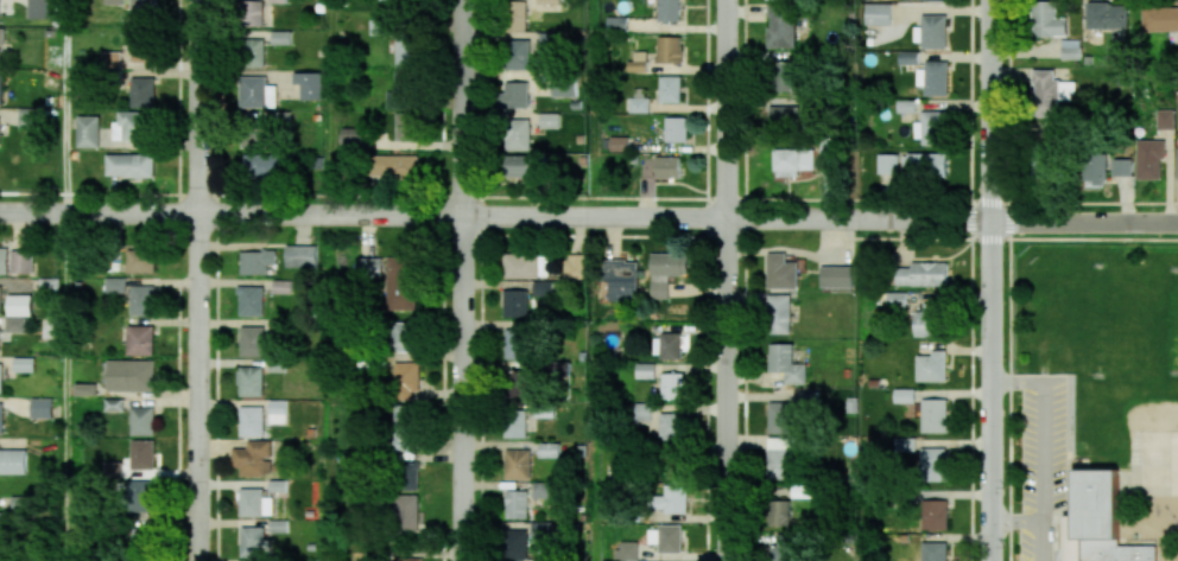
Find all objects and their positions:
building: (767, 0)
building: (936, 0)
building: (113, 1)
building: (547, 1)
building: (38, 8)
building: (669, 9)
building: (141, 12)
building: (252, 12)
building: (878, 13)
building: (517, 14)
building: (1109, 18)
building: (1159, 19)
building: (1049, 20)
building: (617, 24)
building: (781, 26)
building: (931, 31)
building: (280, 37)
building: (546, 38)
building: (0, 45)
building: (139, 47)
building: (670, 49)
building: (1070, 49)
building: (254, 52)
building: (407, 52)
building: (518, 55)
building: (907, 57)
building: (110, 59)
building: (638, 60)
building: (783, 76)
building: (933, 77)
building: (308, 84)
building: (563, 88)
building: (1, 89)
building: (670, 89)
building: (403, 90)
building: (142, 91)
building: (256, 93)
building: (1051, 93)
building: (515, 94)
building: (638, 104)
road: (64, 106)
building: (784, 116)
building: (28, 117)
building: (1165, 119)
building: (550, 120)
building: (405, 126)
building: (132, 127)
building: (930, 127)
building: (676, 128)
building: (88, 130)
building: (518, 134)
building: (351, 138)
building: (0, 141)
building: (619, 144)
building: (791, 159)
building: (1148, 159)
building: (1177, 162)
building: (886, 164)
building: (128, 165)
building: (265, 165)
building: (517, 165)
building: (925, 165)
building: (393, 166)
building: (667, 166)
building: (1121, 167)
building: (1095, 170)
road: (588, 215)
building: (300, 256)
building: (4, 260)
building: (140, 260)
building: (20, 261)
building: (256, 261)
building: (520, 266)
building: (574, 266)
building: (369, 268)
building: (665, 272)
building: (781, 272)
building: (921, 274)
building: (838, 276)
building: (621, 279)
road: (198, 280)
road: (463, 280)
road: (728, 280)
road: (993, 280)
building: (400, 283)
building: (114, 285)
building: (543, 288)
building: (0, 299)
building: (895, 299)
building: (141, 300)
building: (249, 300)
building: (515, 304)
building: (19, 305)
building: (779, 313)
building: (929, 320)
building: (14, 324)
building: (404, 337)
building: (140, 340)
building: (251, 340)
building: (514, 343)
building: (666, 345)
building: (786, 363)
building: (24, 364)
building: (931, 366)
building: (644, 370)
building: (131, 375)
building: (0, 378)
building: (406, 380)
building: (249, 381)
building: (522, 384)
building: (671, 385)
road: (64, 387)
building: (85, 389)
building: (904, 395)
building: (114, 404)
building: (40, 407)
building: (277, 410)
building: (641, 412)
building: (933, 415)
building: (783, 416)
building: (1, 419)
building: (141, 420)
building: (251, 421)
building: (515, 422)
building: (670, 426)
building: (404, 427)
building: (905, 444)
road: (1045, 445)
building: (549, 450)
building: (141, 453)
building: (779, 457)
building: (252, 458)
building: (12, 461)
building: (517, 464)
building: (932, 464)
building: (113, 468)
building: (406, 476)
building: (541, 490)
building: (138, 495)
building: (671, 499)
building: (254, 503)
building: (517, 504)
building: (780, 512)
building: (406, 514)
building: (935, 514)
road: (1019, 521)
building: (1096, 522)
building: (1, 523)
building: (277, 525)
building: (540, 533)
building: (665, 537)
building: (251, 541)
building: (514, 544)
building: (783, 548)
building: (935, 552)
building: (408, 559)

